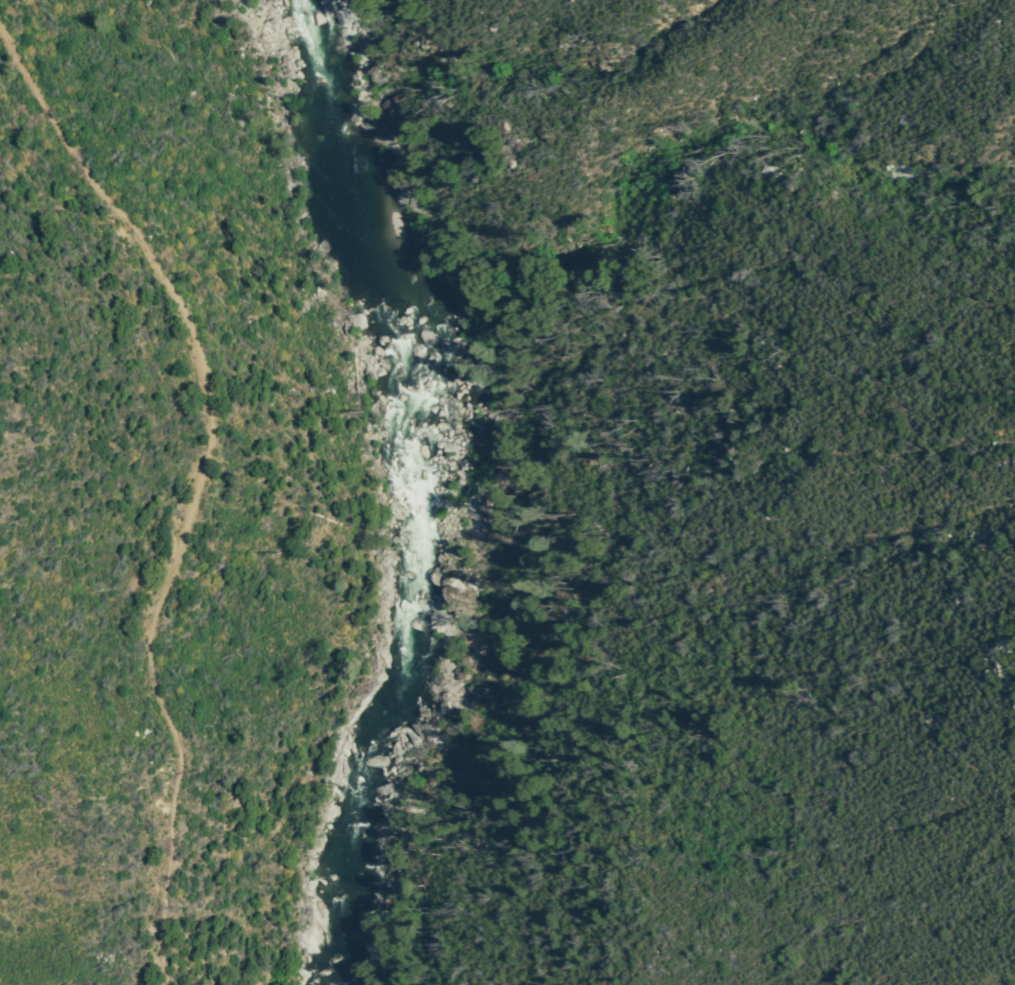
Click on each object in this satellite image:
road: (200, 480)
river: (388, 489)

